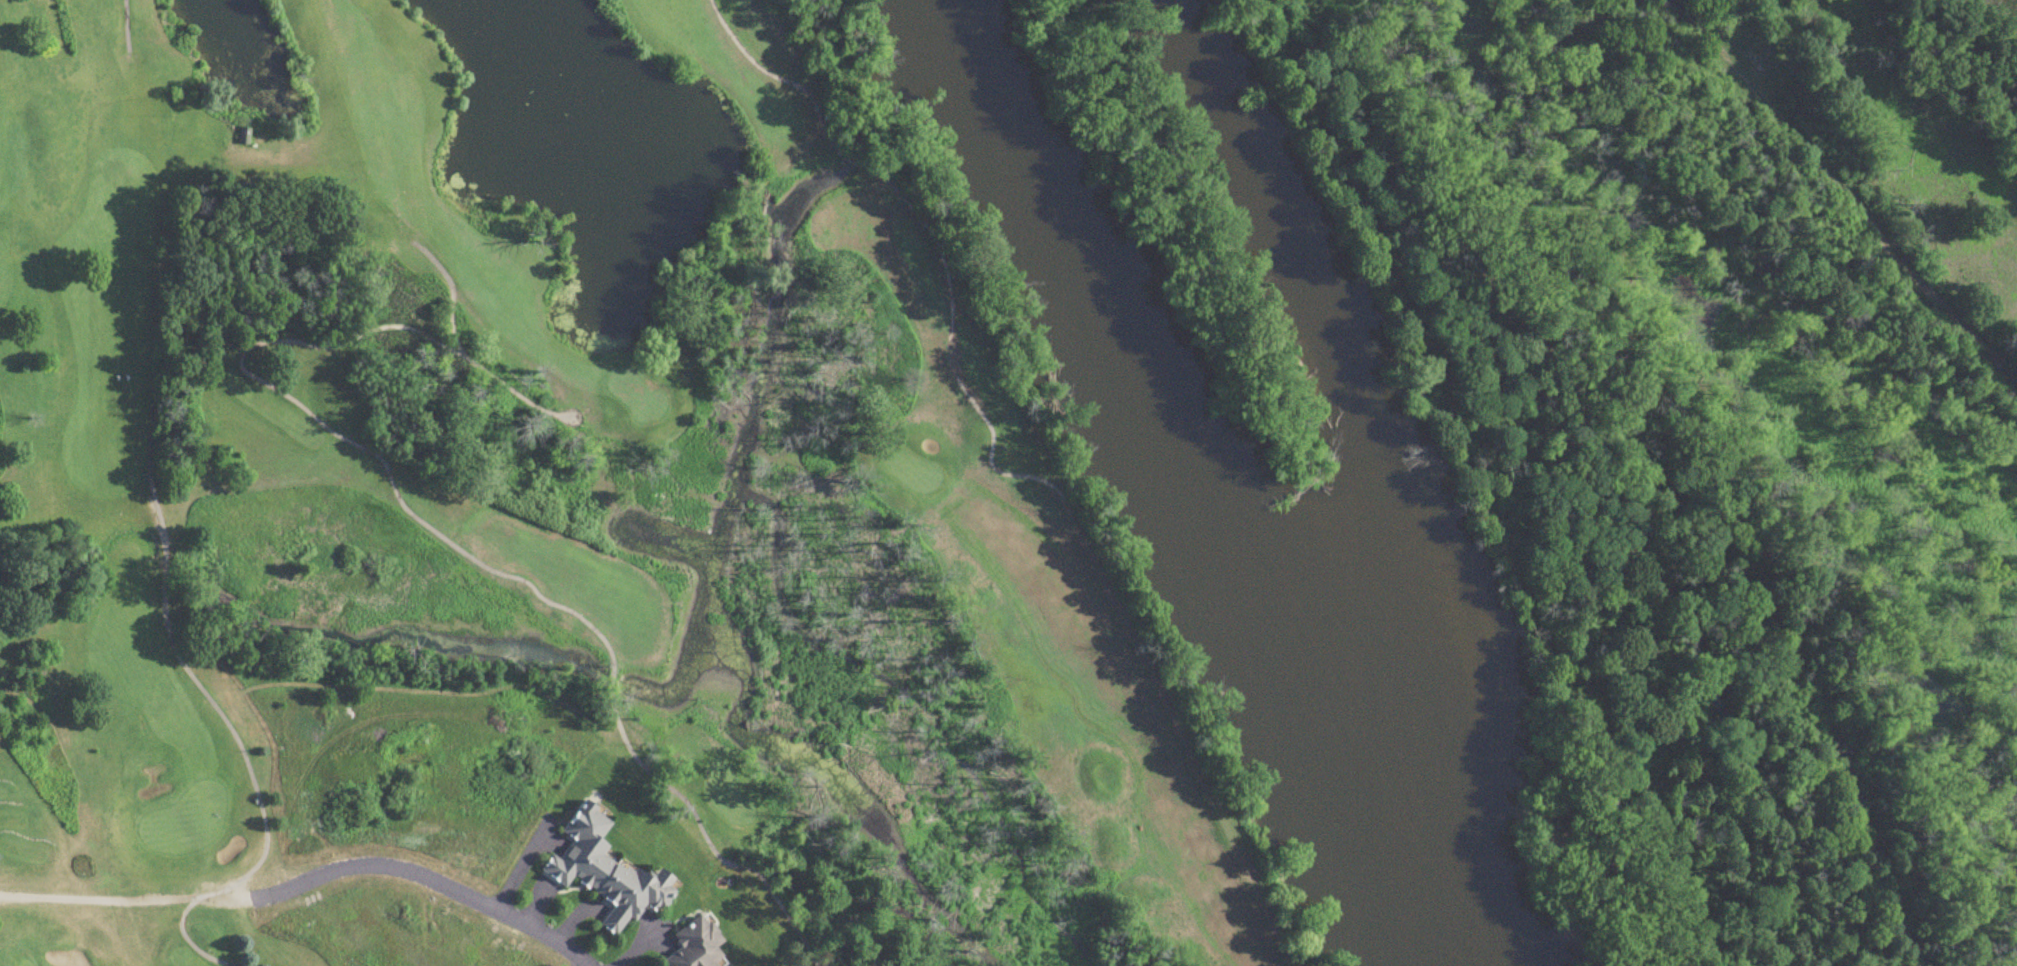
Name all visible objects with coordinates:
building: (244, 137)
road: (1399, 331)
river: (1188, 500)
park: (560, 517)
building: (607, 872)
road: (436, 882)
road: (136, 900)
building: (697, 945)

